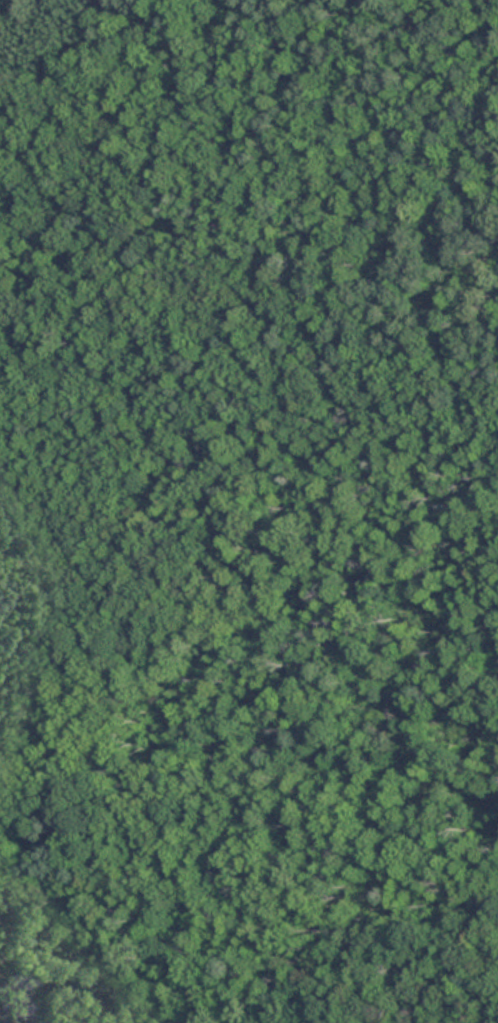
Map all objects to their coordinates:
park: (254, 498)

